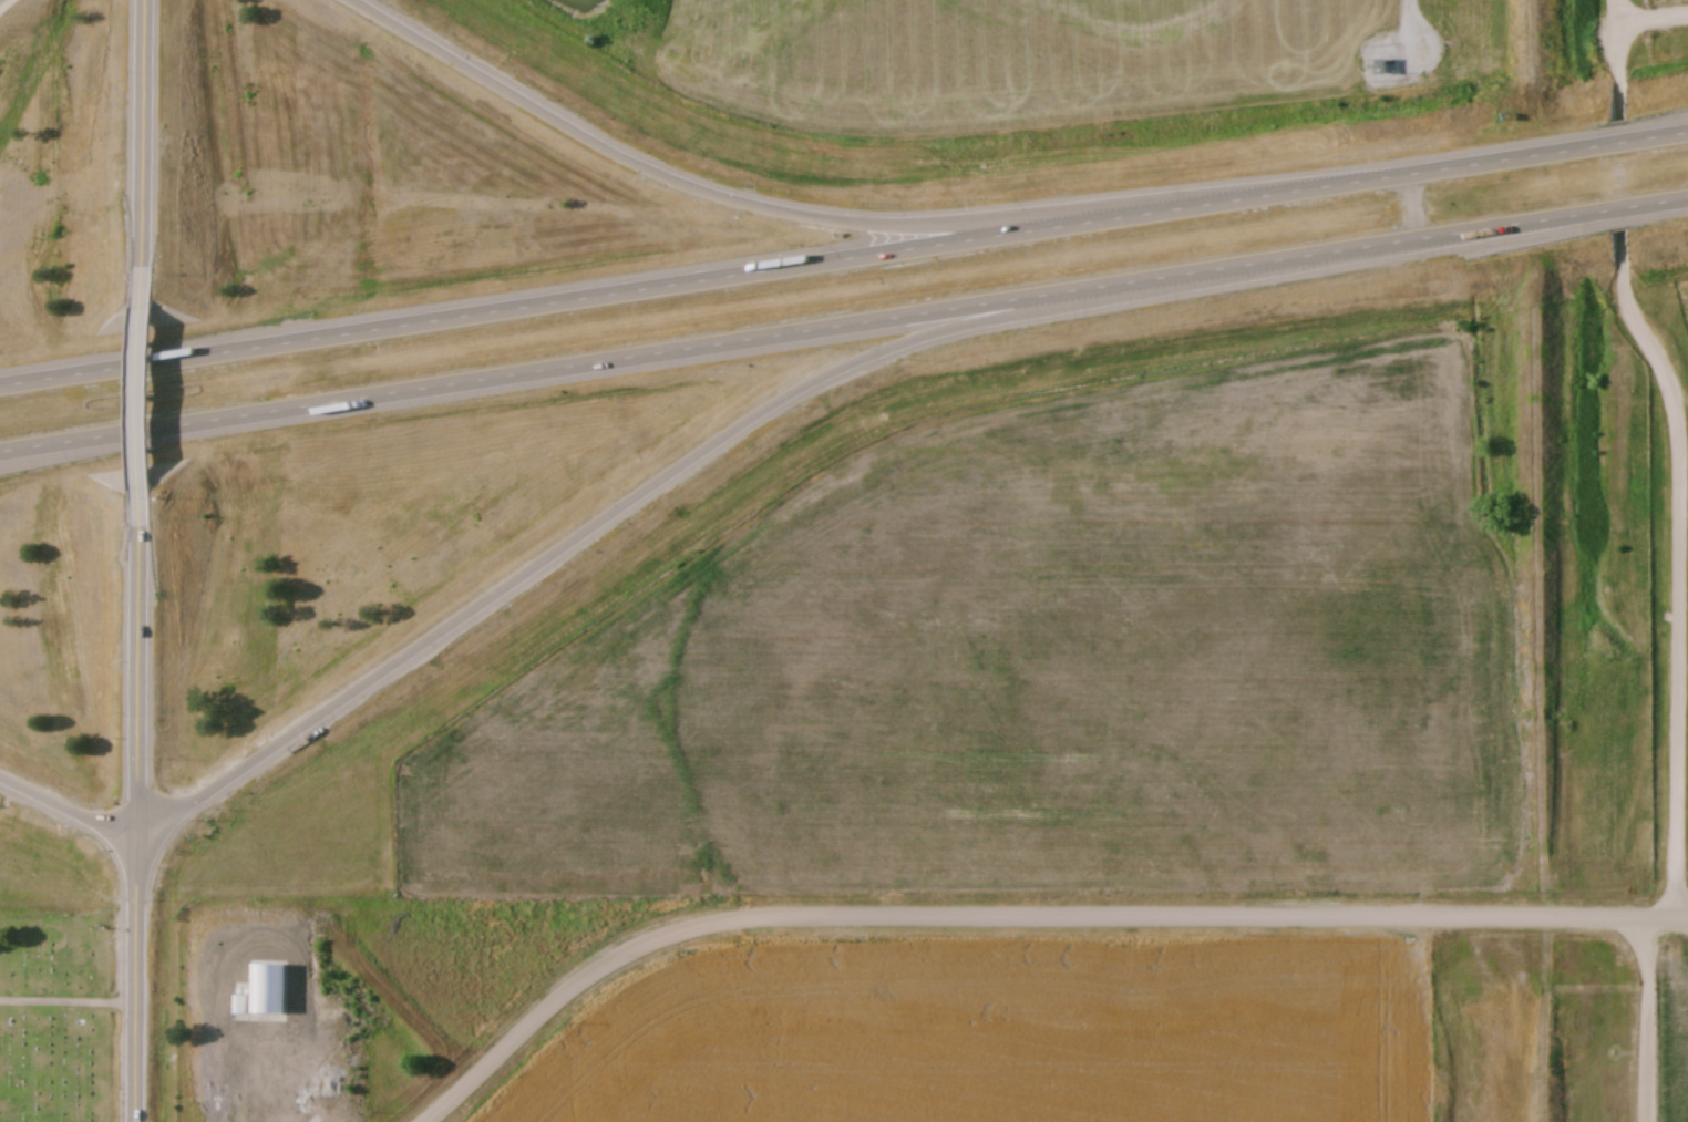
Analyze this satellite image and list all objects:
road: (1616, 11)
road: (1651, 20)
building: (1389, 69)
road: (1618, 69)
road: (135, 151)
road: (801, 215)
road: (843, 255)
road: (844, 323)
road: (132, 395)
road: (655, 490)
road: (1680, 574)
road: (132, 660)
crop: (1039, 673)
road: (64, 806)
road: (1021, 922)
road: (134, 976)
road: (1647, 1020)
park: (59, 1023)

